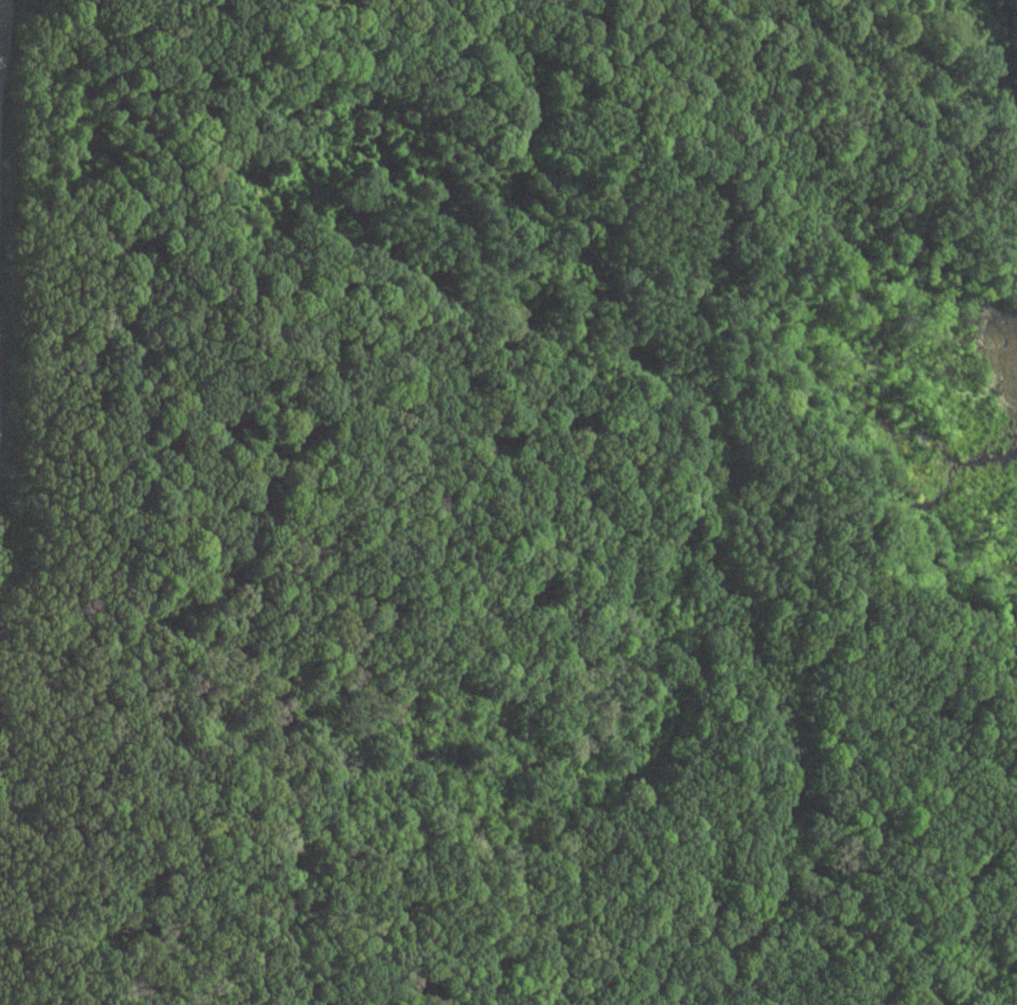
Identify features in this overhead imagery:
road: (1013, 164)

